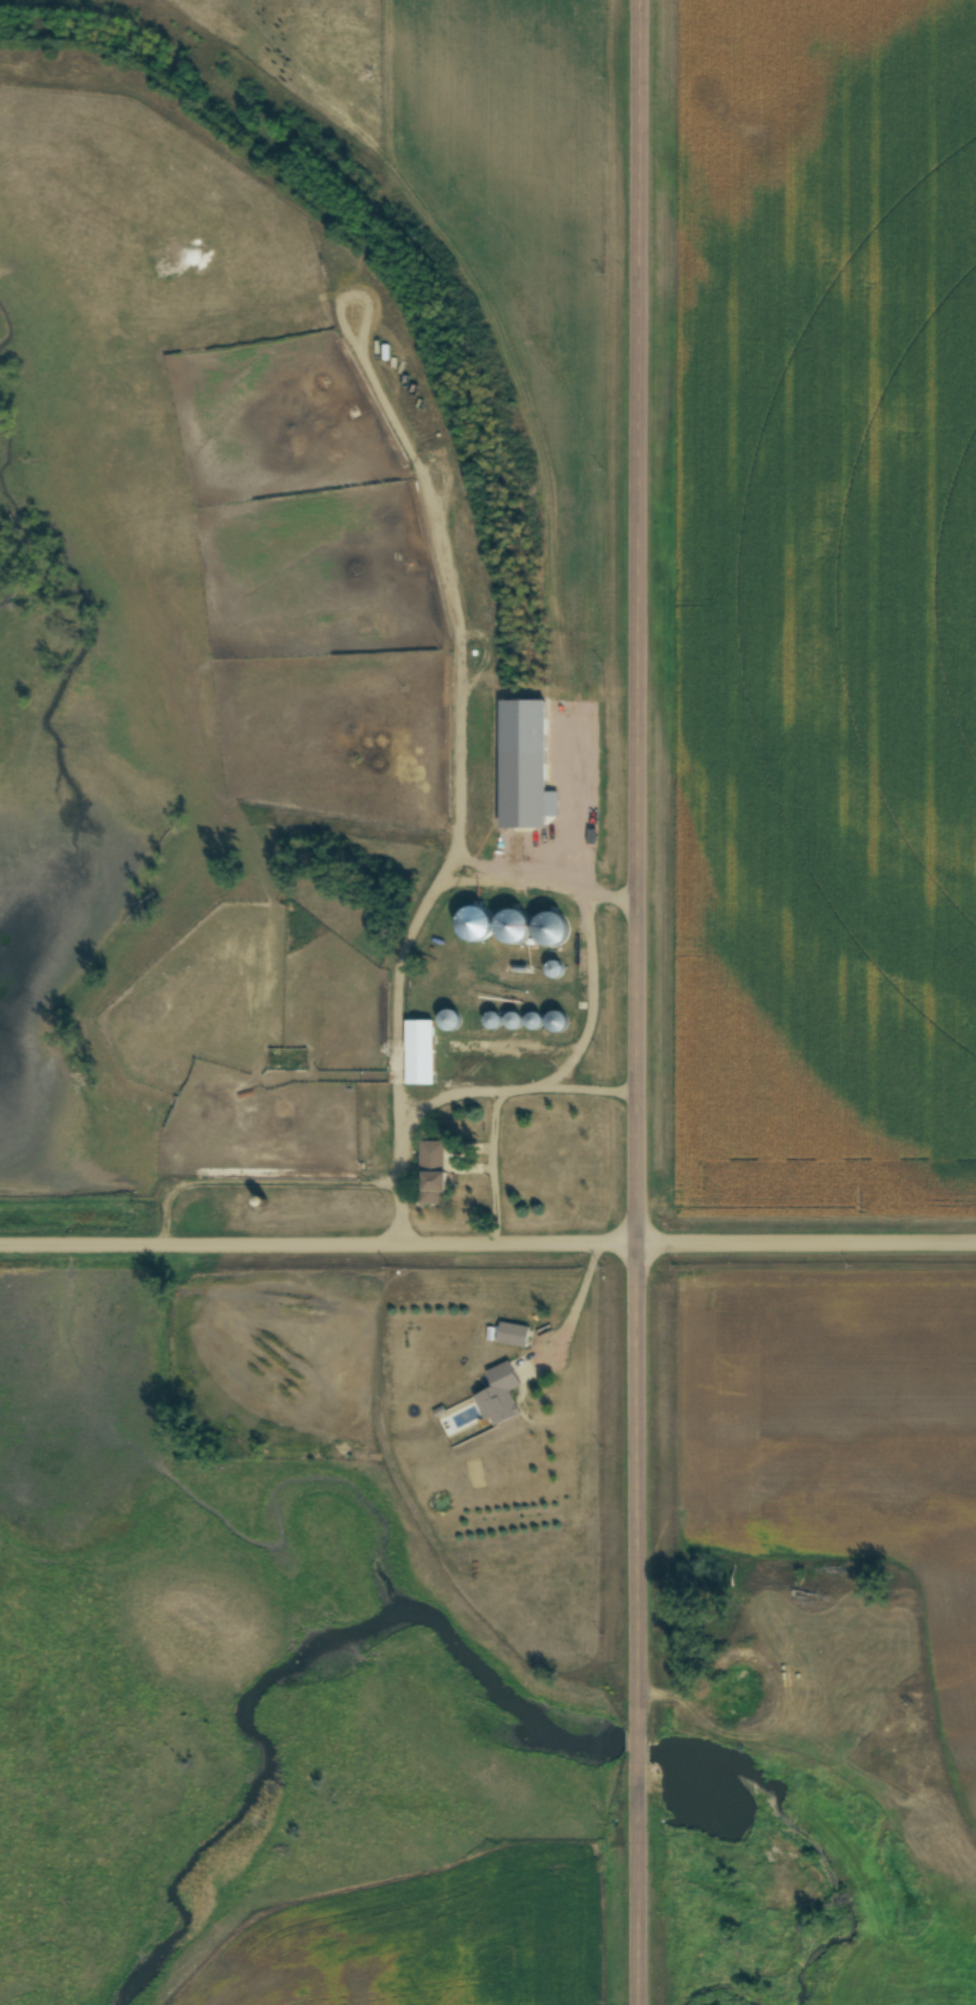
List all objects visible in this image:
building: (515, 925)
building: (554, 927)
building: (554, 969)
road: (637, 1002)
building: (453, 1020)
building: (515, 1020)
building: (535, 1021)
building: (559, 1021)
building: (419, 1056)
road: (566, 1062)
road: (590, 1089)
road: (398, 1127)
building: (434, 1172)
road: (256, 1184)
road: (487, 1243)
road: (574, 1308)
building: (514, 1335)
building: (505, 1393)

